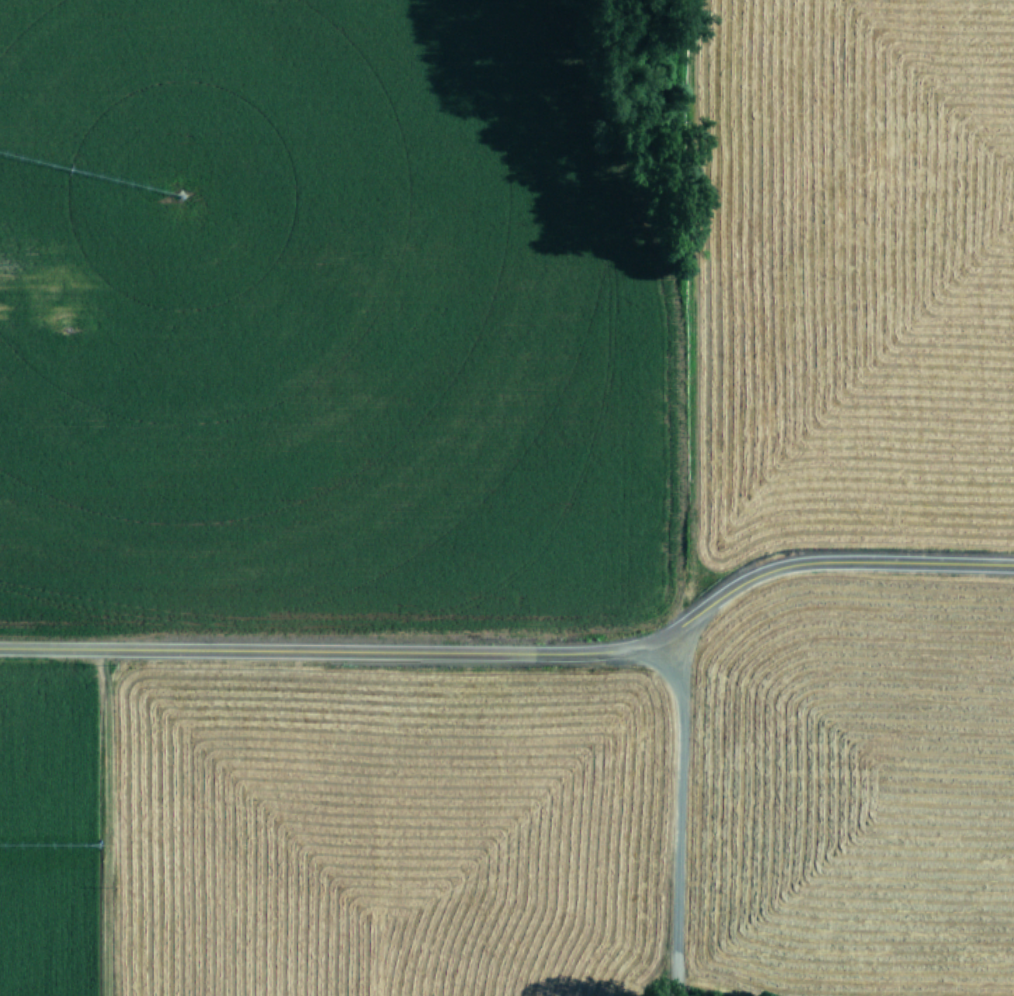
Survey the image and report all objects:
crop: (507, 498)
road: (518, 652)
road: (678, 814)

